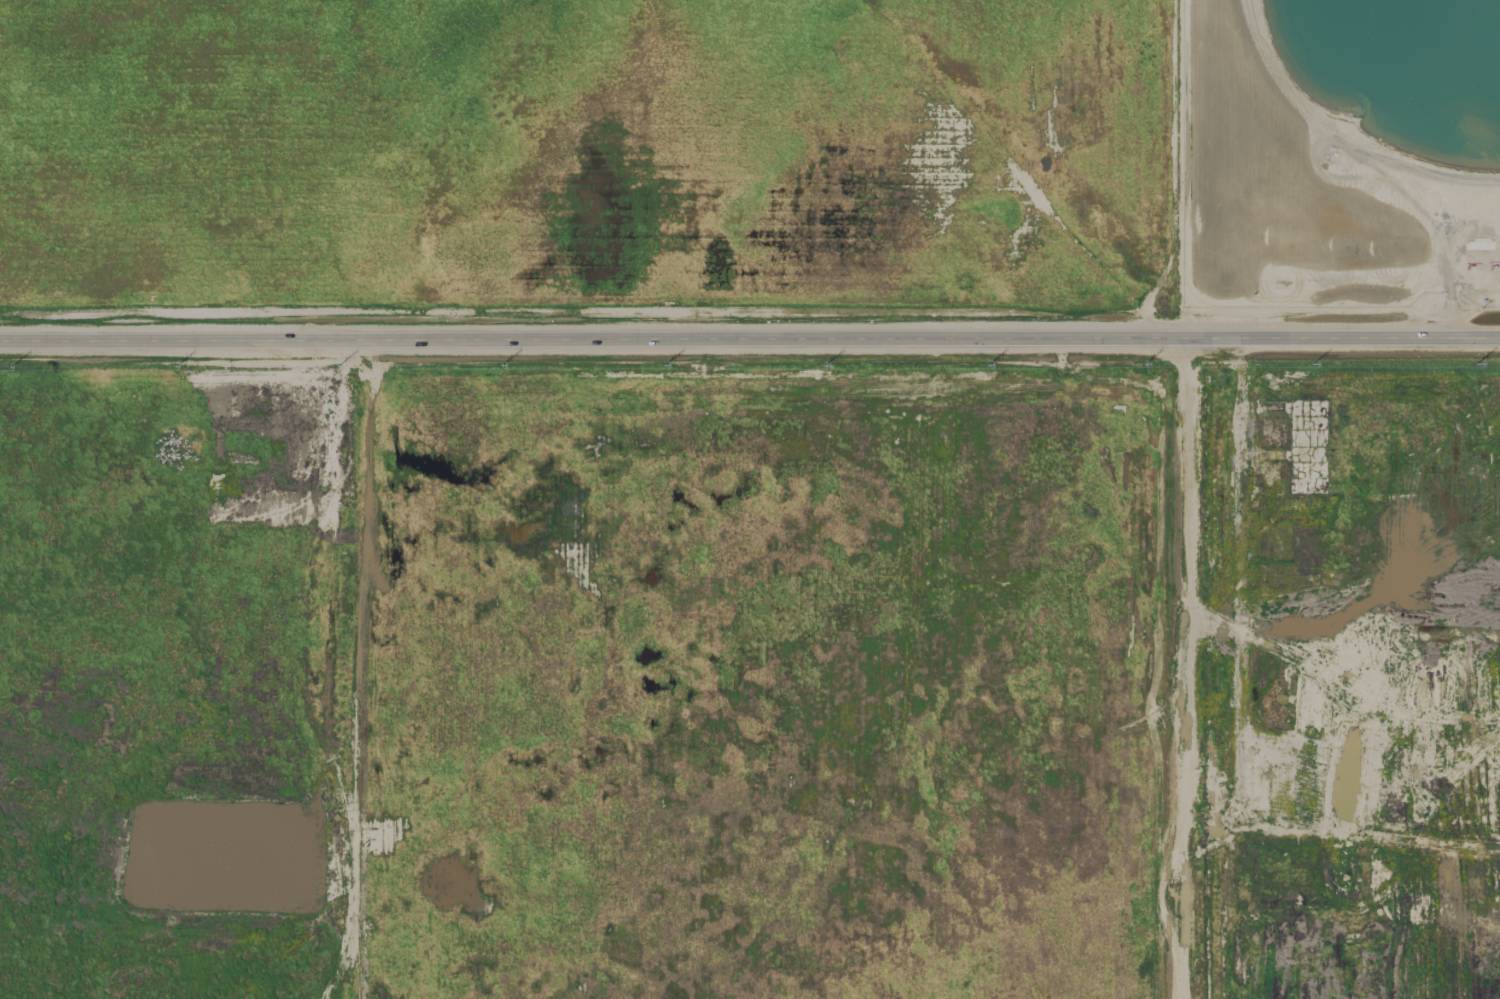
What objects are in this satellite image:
road: (750, 338)
road: (1183, 667)

